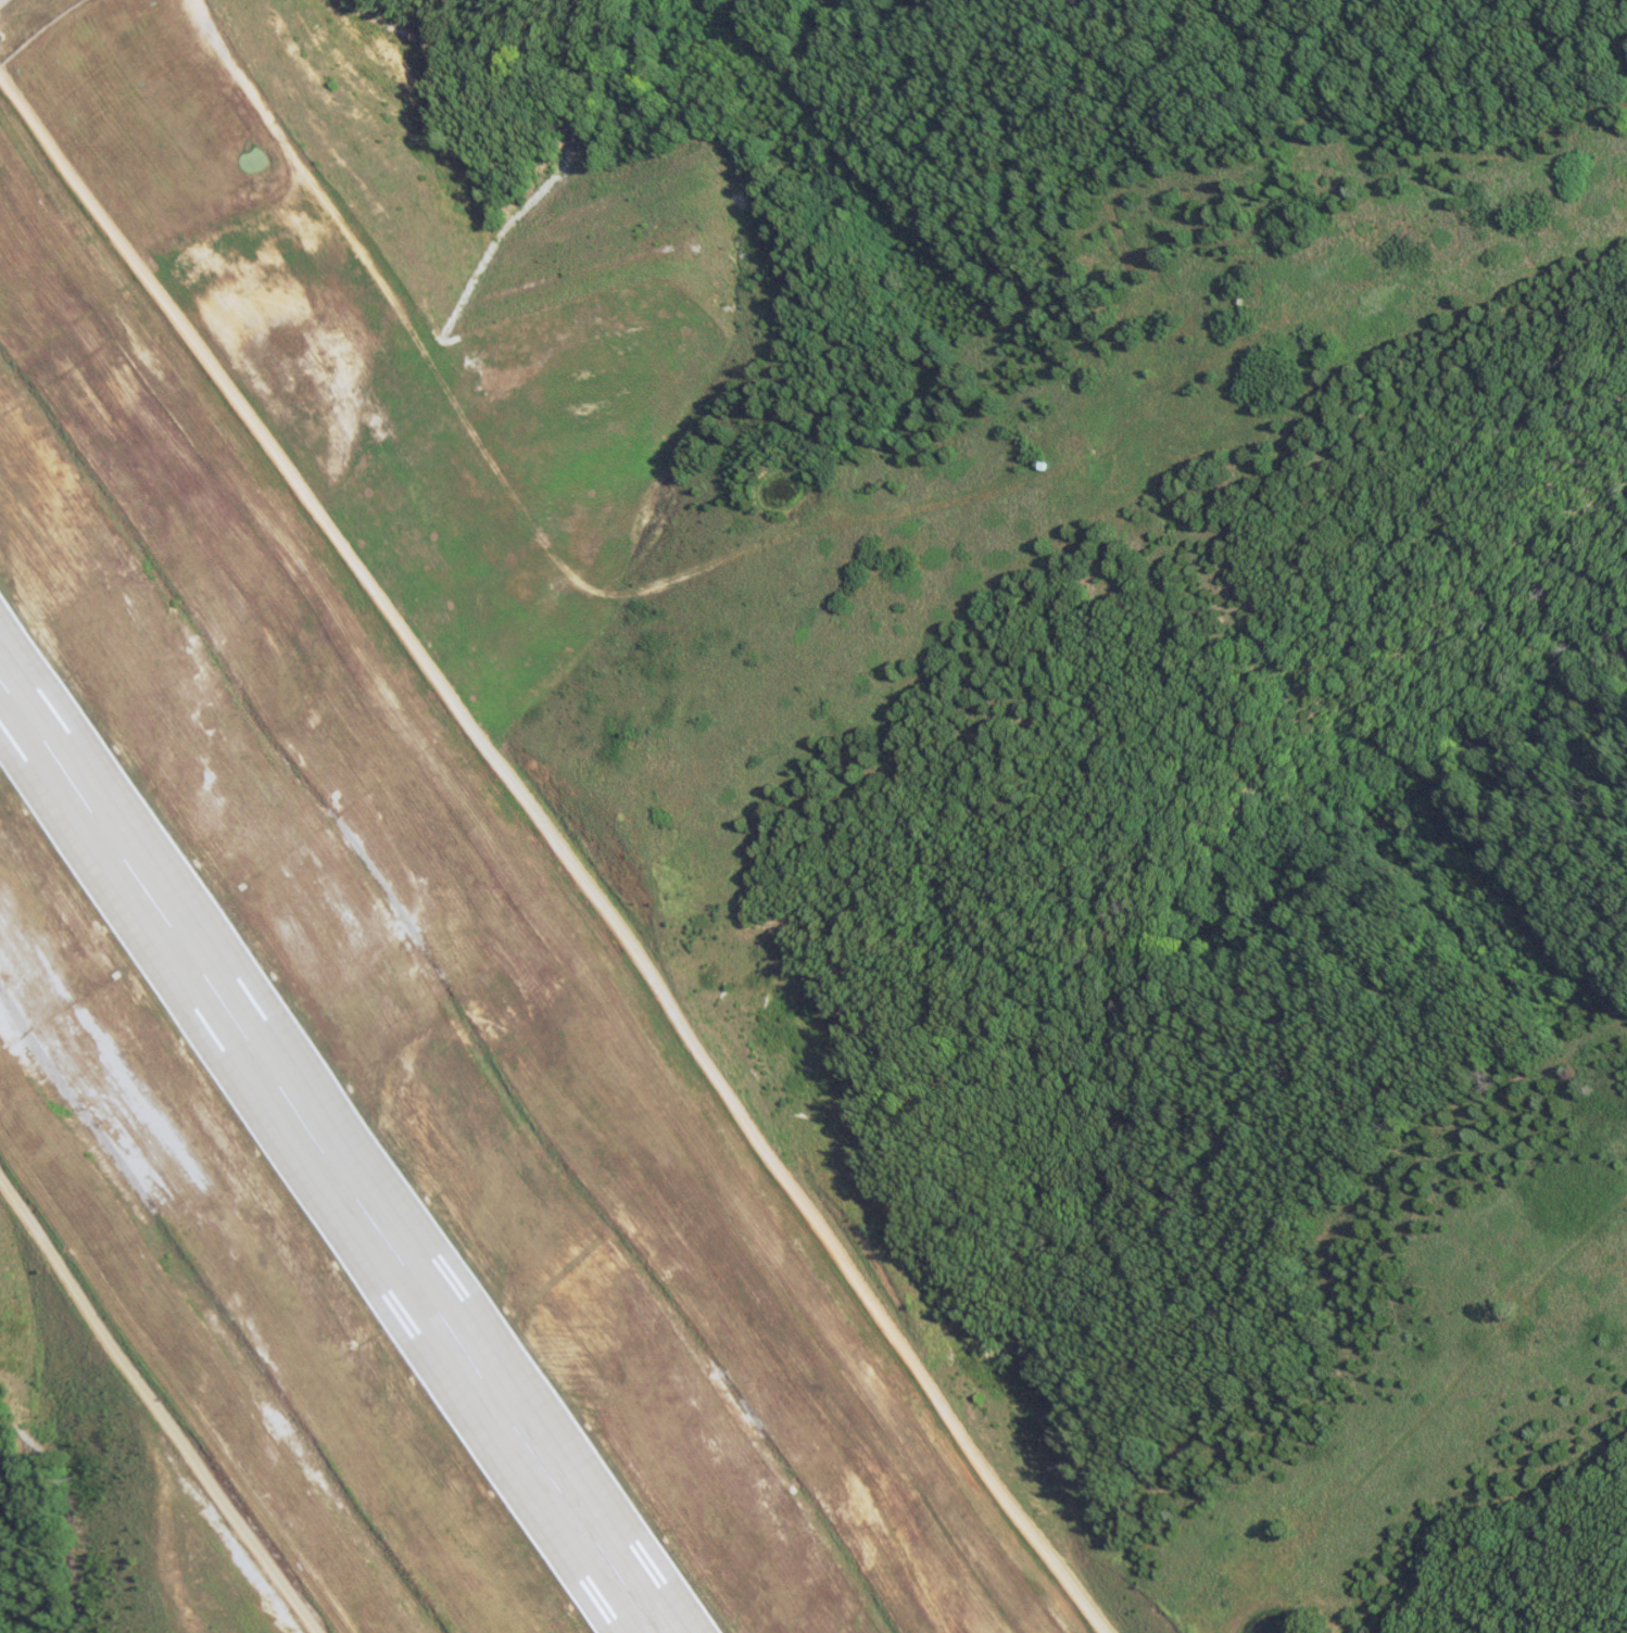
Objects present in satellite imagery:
road: (532, 819)
airport: (445, 1025)
airport runway: (318, 1174)
road: (151, 1416)

